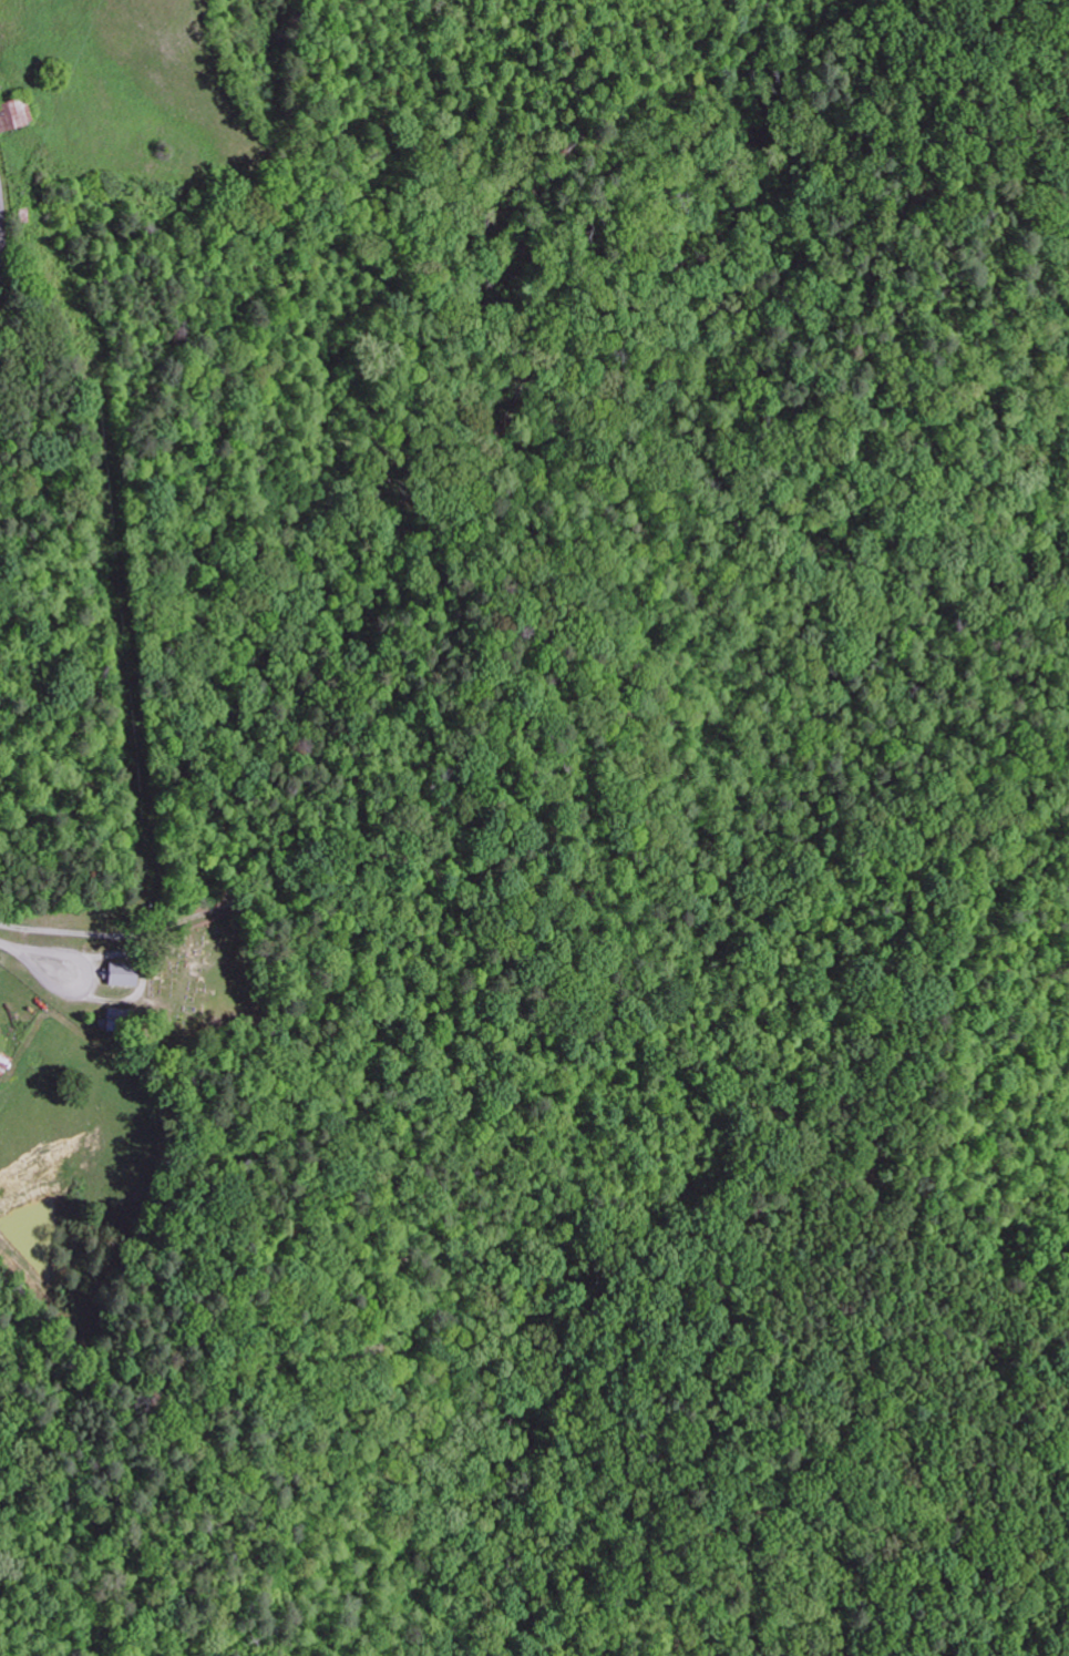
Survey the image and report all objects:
road: (3, 260)
road: (1, 945)
building: (121, 973)
park: (205, 981)
road: (90, 995)

